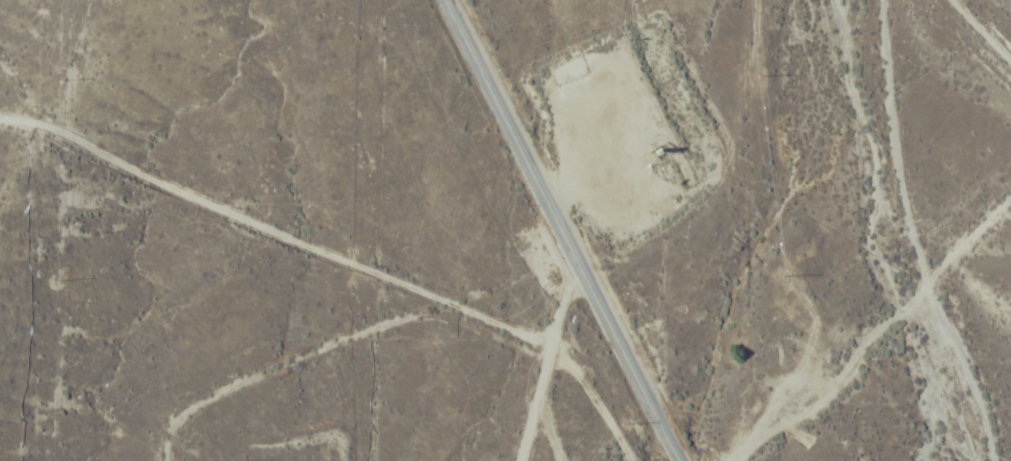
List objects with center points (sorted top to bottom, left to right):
road: (308, 227)
road: (563, 231)
road: (605, 411)

